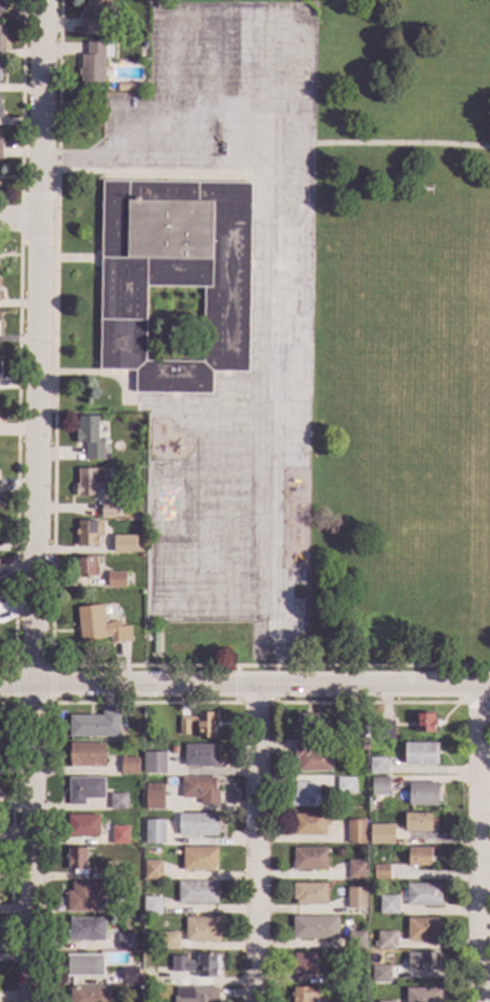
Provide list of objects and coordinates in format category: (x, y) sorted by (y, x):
building: (1, 6)
building: (95, 17)
building: (1, 36)
building: (125, 47)
building: (94, 61)
building: (0, 75)
building: (125, 87)
road: (21, 98)
road: (55, 98)
building: (0, 107)
building: (1, 112)
road: (195, 123)
road: (400, 142)
building: (0, 148)
road: (80, 158)
road: (20, 219)
road: (19, 220)
building: (174, 275)
park: (439, 307)
park: (429, 333)
road: (53, 430)
building: (89, 437)
road: (17, 454)
park: (452, 474)
building: (90, 480)
road: (37, 501)
building: (109, 508)
building: (88, 532)
park: (225, 536)
park: (205, 538)
building: (127, 543)
building: (85, 565)
building: (115, 580)
building: (99, 625)
road: (245, 685)
road: (51, 703)
building: (306, 721)
building: (424, 722)
building: (94, 724)
building: (200, 724)
building: (354, 728)
building: (383, 729)
building: (137, 734)
building: (362, 746)
building: (173, 749)
building: (420, 753)
building: (86, 754)
building: (200, 755)
building: (312, 757)
building: (154, 761)
building: (128, 764)
building: (377, 765)
building: (344, 784)
building: (379, 785)
building: (199, 788)
building: (84, 789)
building: (421, 793)
building: (154, 795)
building: (302, 795)
building: (118, 801)
building: (378, 807)
road: (10, 809)
building: (417, 821)
building: (197, 824)
building: (308, 824)
building: (82, 825)
building: (155, 828)
building: (355, 831)
building: (381, 833)
building: (118, 834)
road: (482, 842)
road: (259, 843)
building: (420, 856)
building: (199, 858)
building: (309, 858)
building: (76, 859)
road: (486, 867)
building: (152, 869)
building: (356, 869)
building: (381, 871)
building: (114, 872)
building: (196, 891)
building: (309, 892)
building: (89, 894)
building: (422, 894)
building: (355, 897)
building: (388, 904)
building: (152, 905)
road: (16, 908)
building: (314, 927)
building: (86, 929)
building: (201, 929)
building: (423, 929)
building: (148, 935)
building: (168, 940)
building: (355, 940)
building: (386, 940)
building: (124, 941)
building: (421, 961)
building: (304, 963)
building: (84, 964)
building: (195, 964)
building: (380, 973)
building: (129, 974)
building: (340, 977)
building: (304, 993)
building: (88, 994)
building: (422, 994)
building: (197, 995)
building: (333, 1001)
building: (385, 1001)

